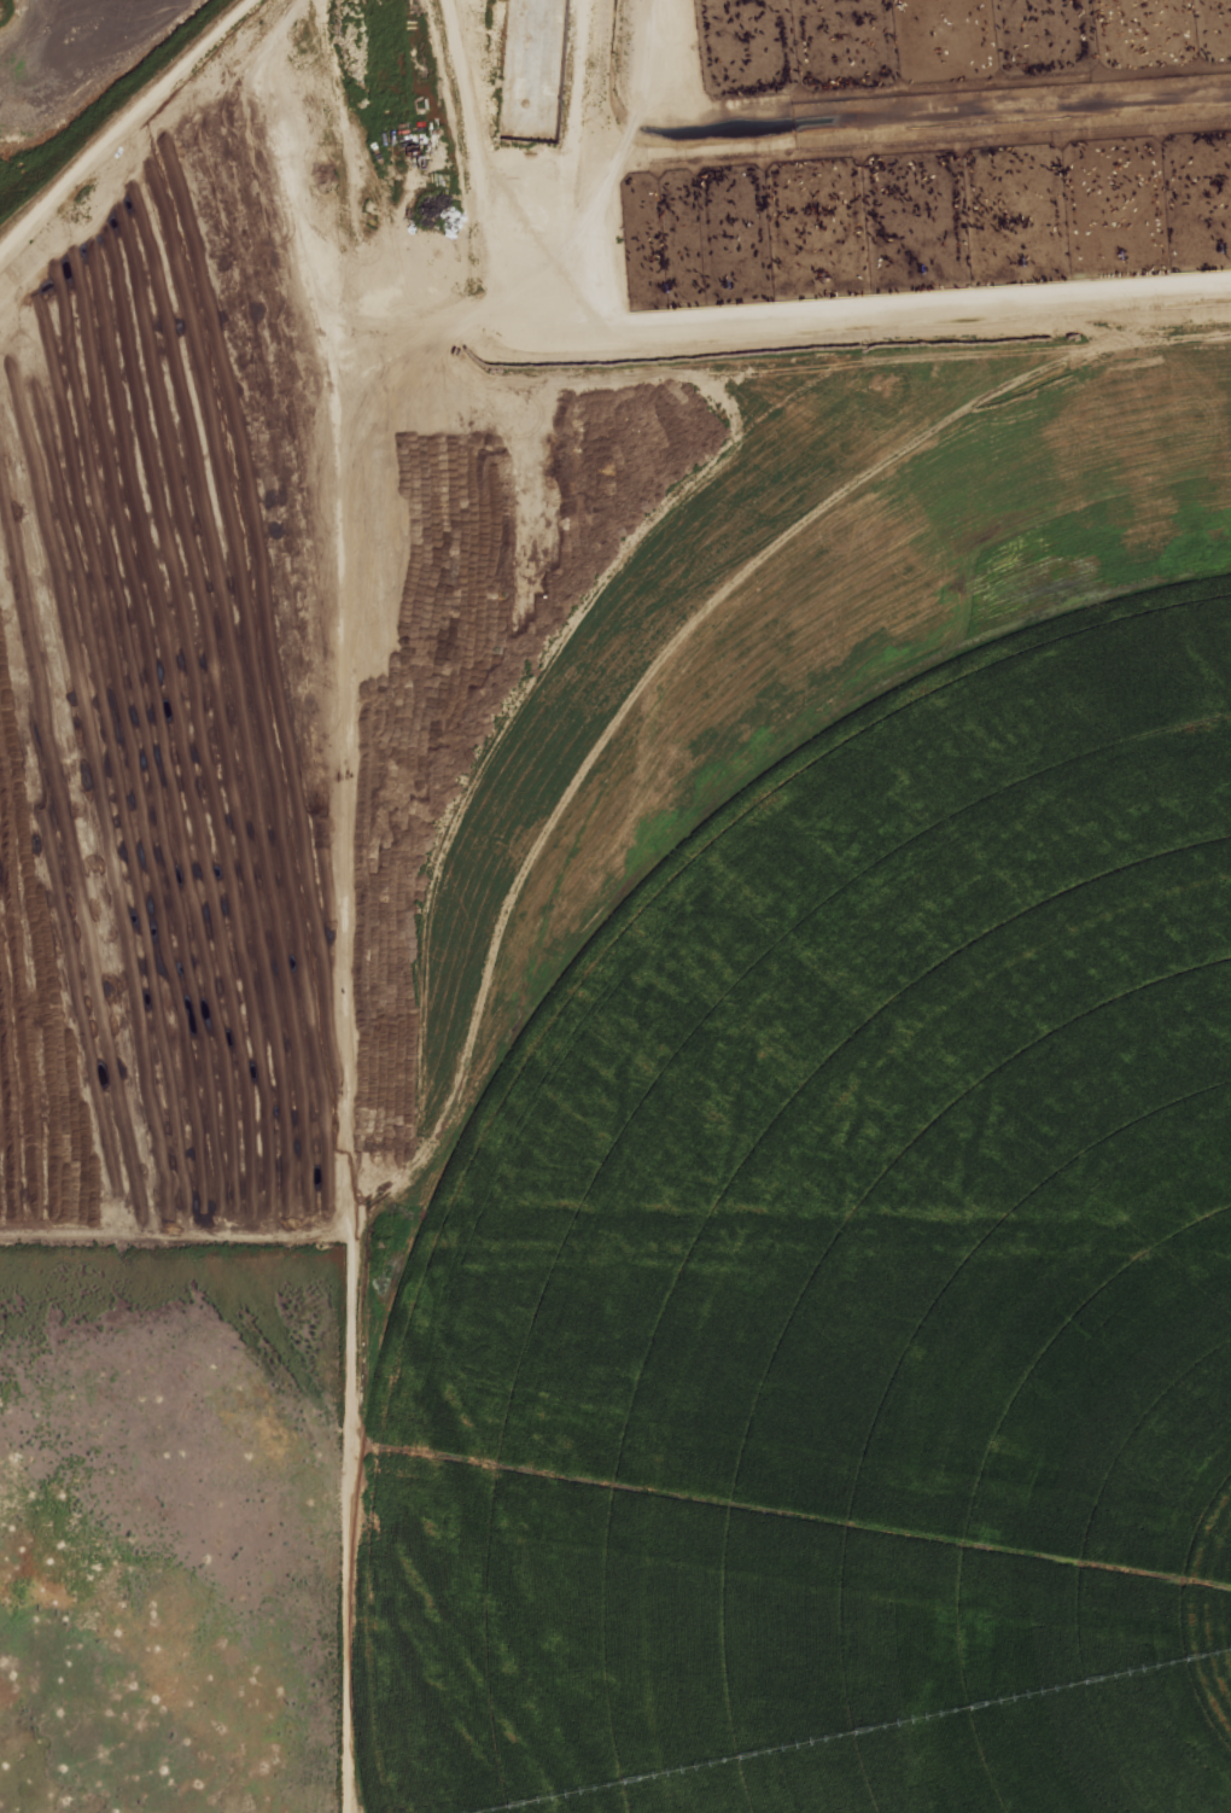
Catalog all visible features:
road: (124, 124)

